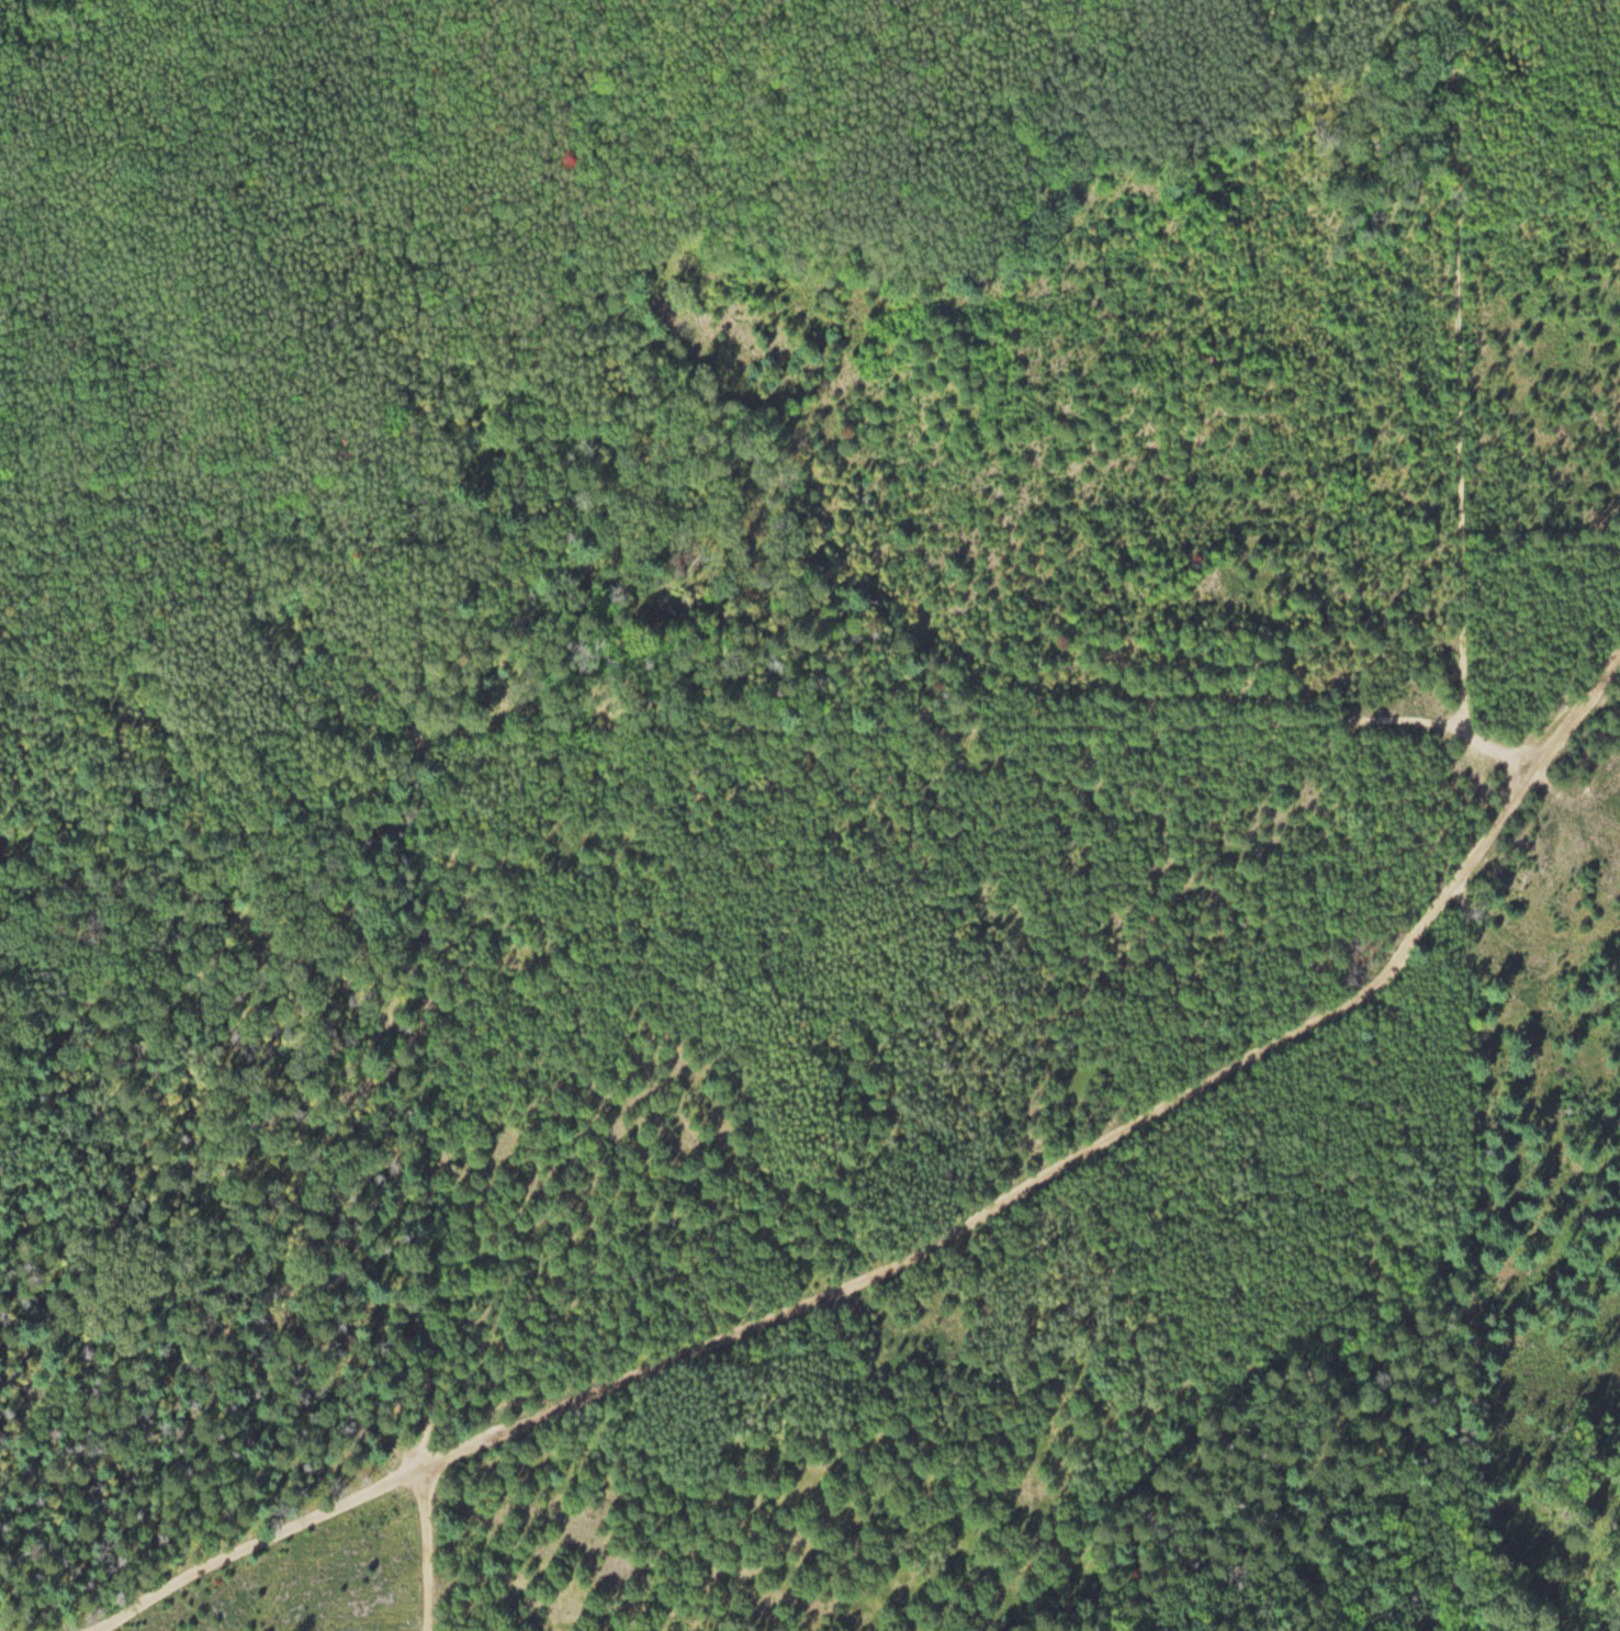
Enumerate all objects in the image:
road: (1462, 406)
road: (731, 731)
road: (923, 1249)

